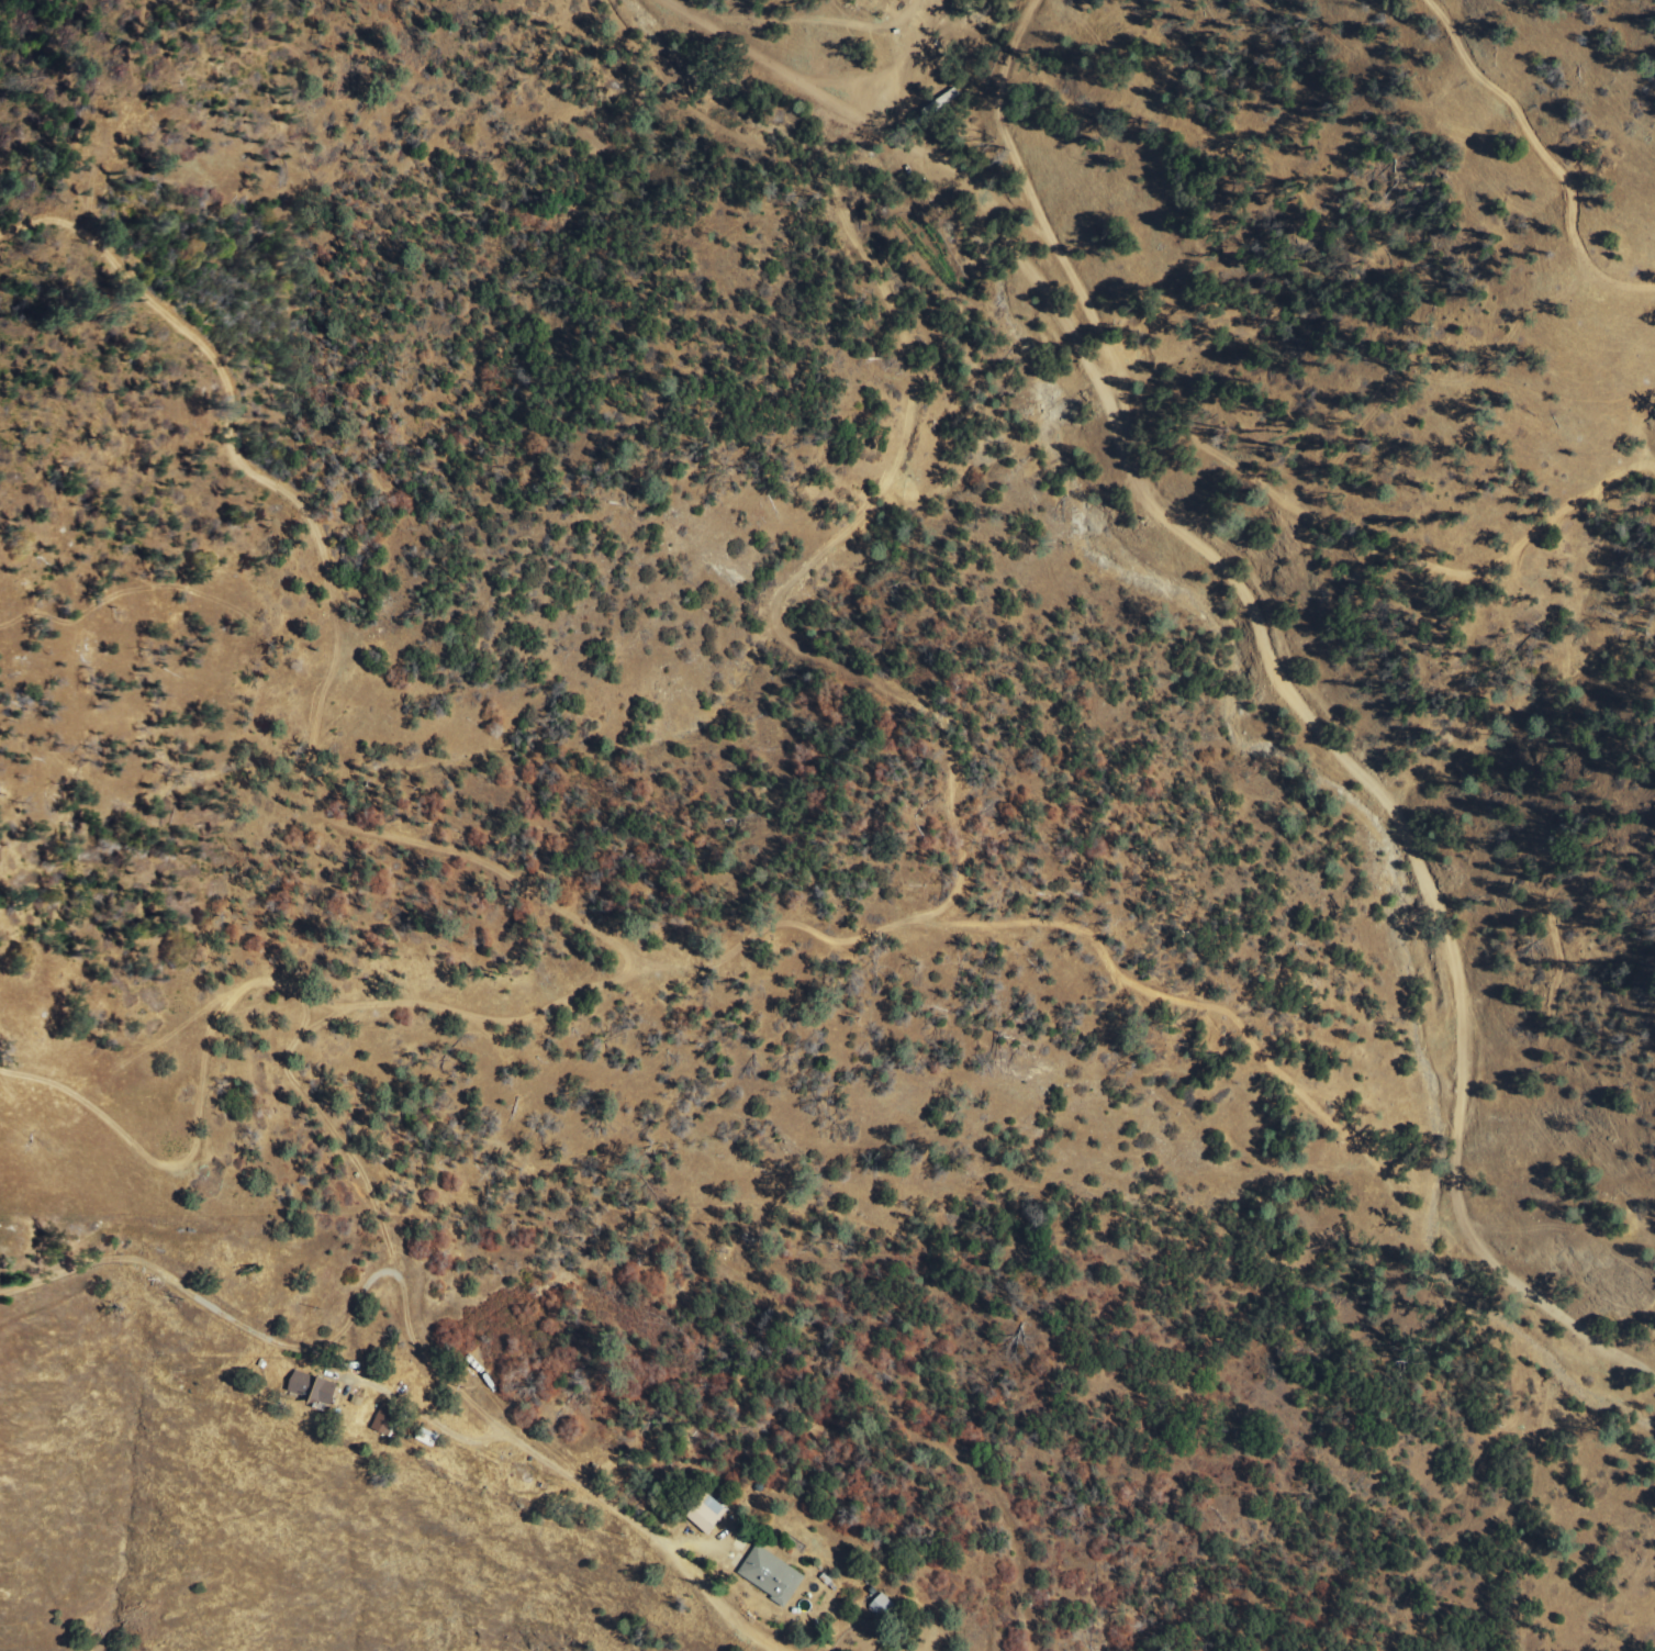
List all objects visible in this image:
road: (1257, 628)
road: (244, 1320)
building: (313, 1388)
building: (385, 1419)
road: (593, 1492)
building: (709, 1515)
building: (772, 1575)
building: (884, 1608)

